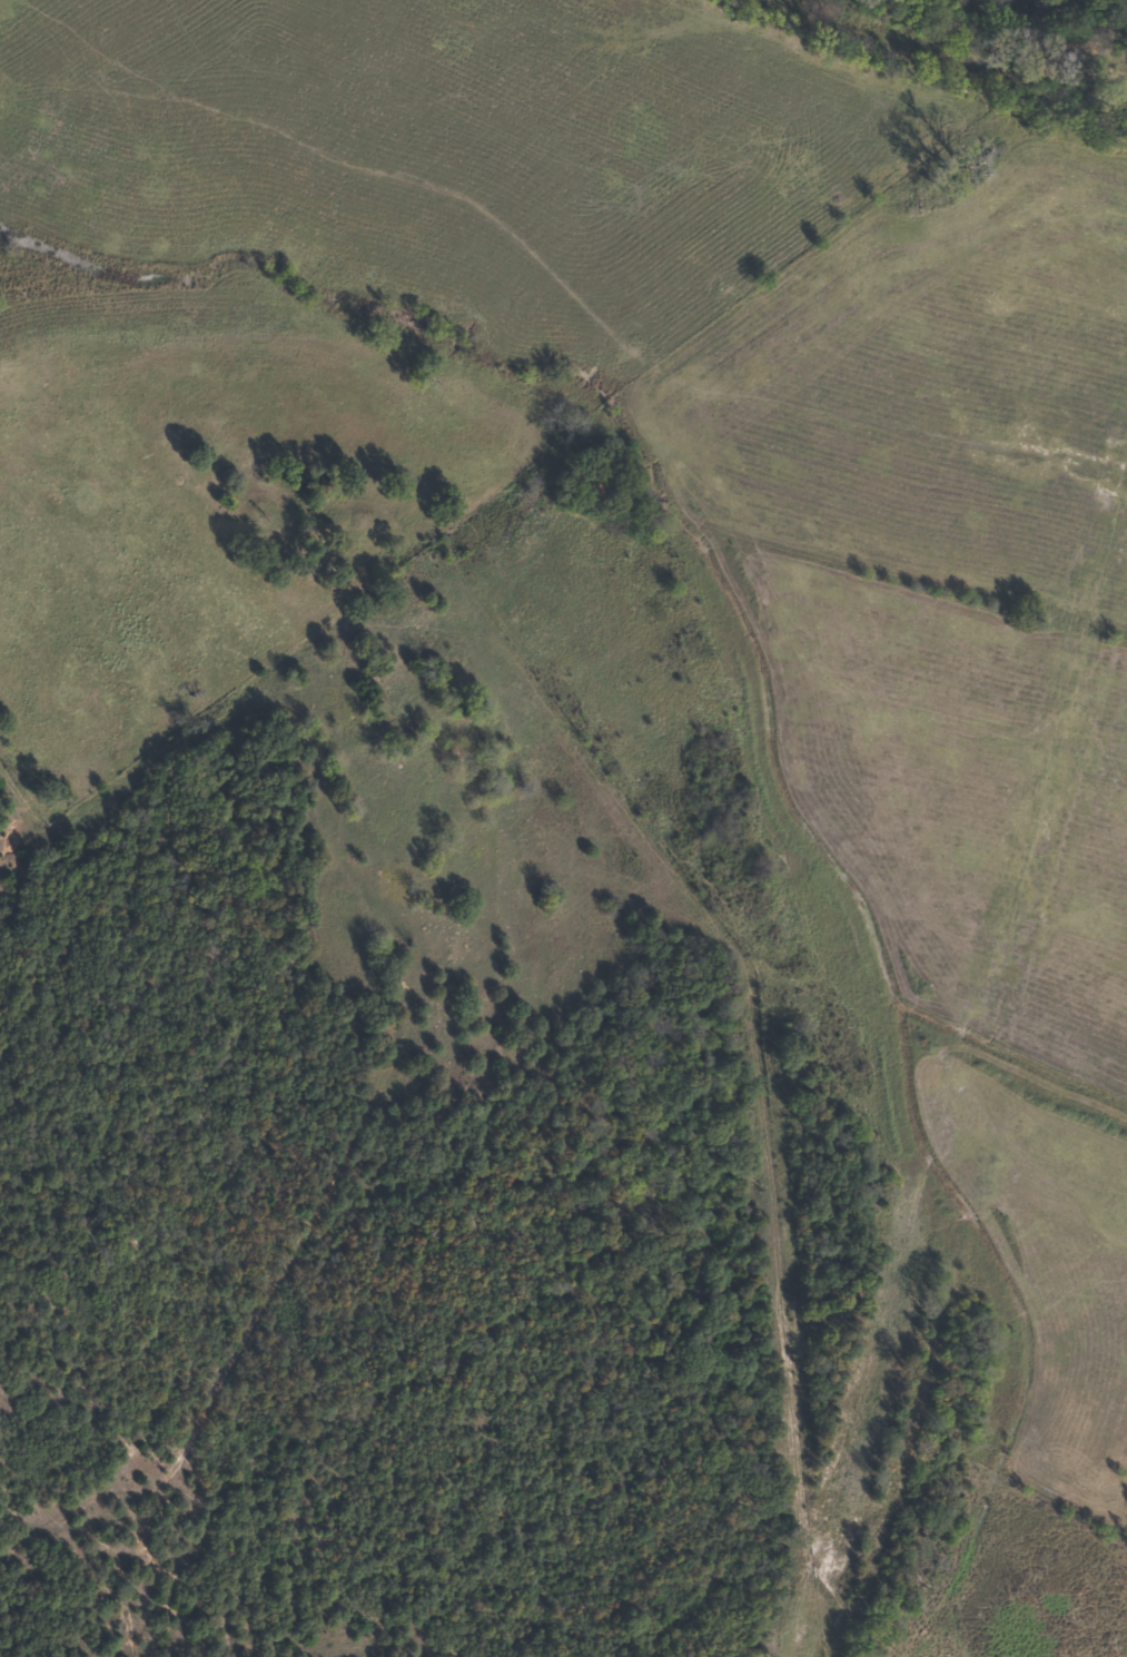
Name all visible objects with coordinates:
railway: (1025, 43)

